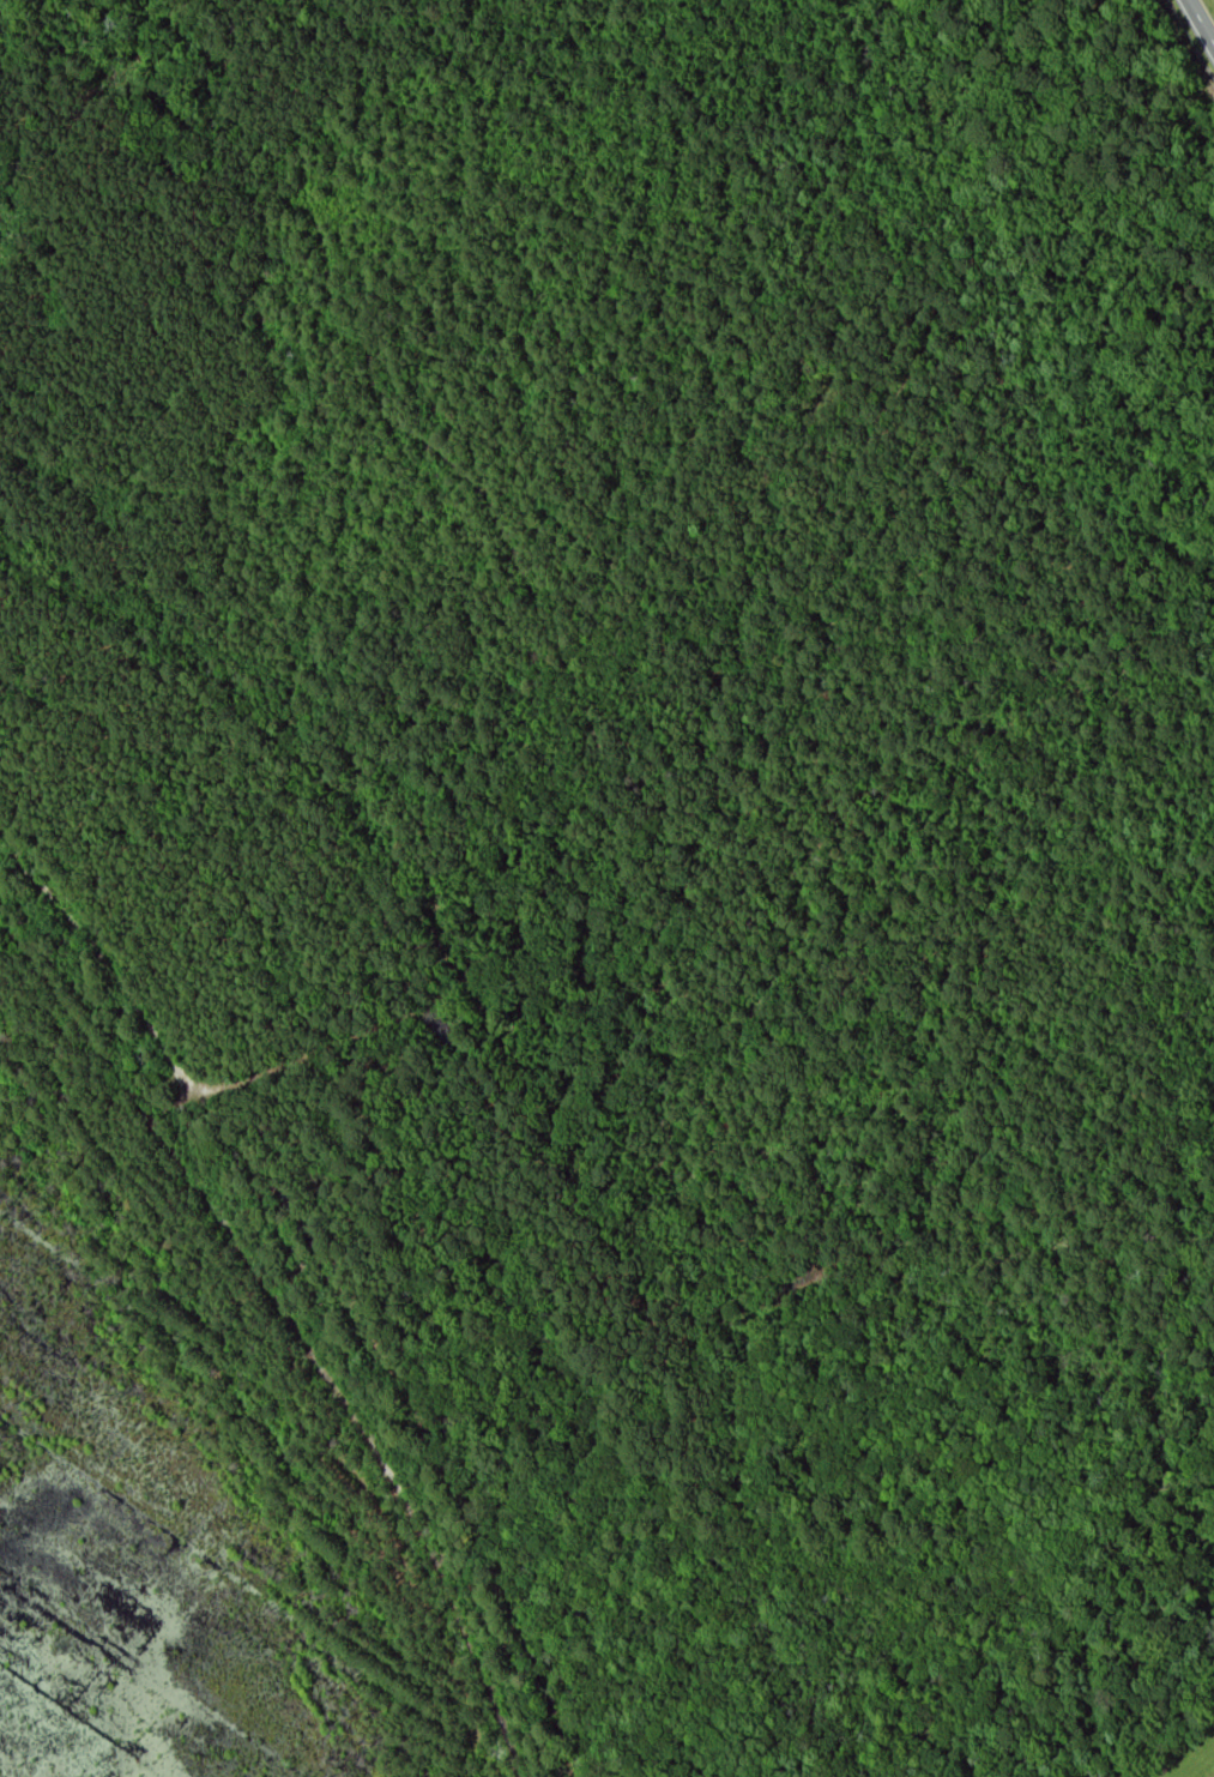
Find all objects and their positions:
road: (1203, 18)

